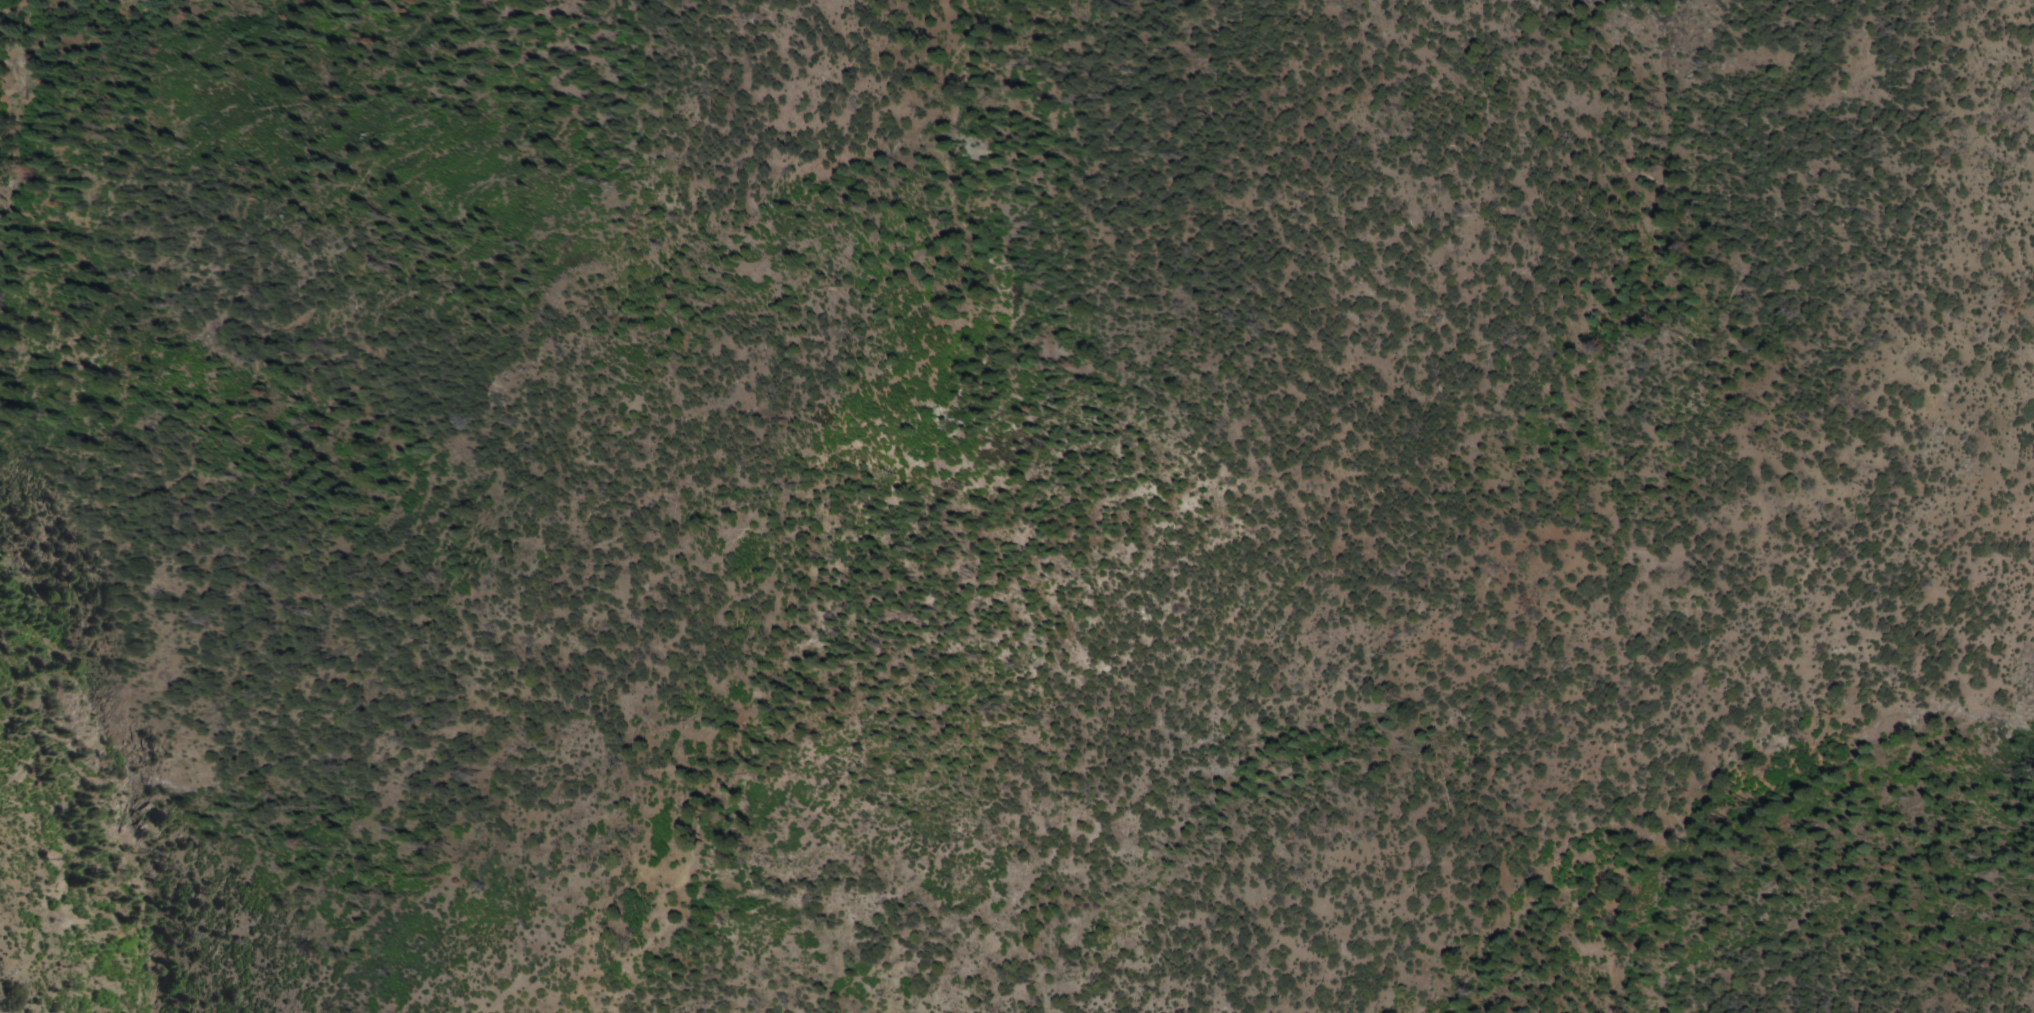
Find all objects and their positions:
road: (24, 4)
road: (238, 4)

